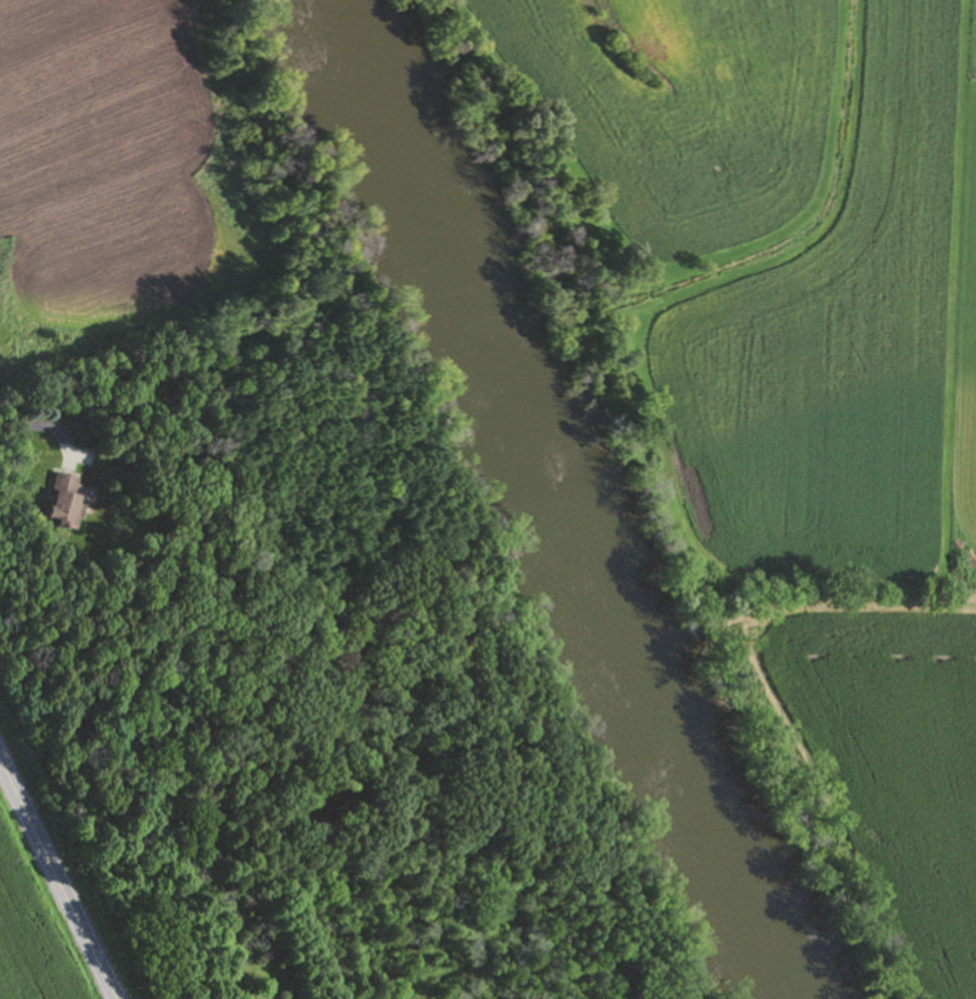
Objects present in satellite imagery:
road: (33, 434)
river: (548, 501)
building: (63, 504)
road: (56, 886)

